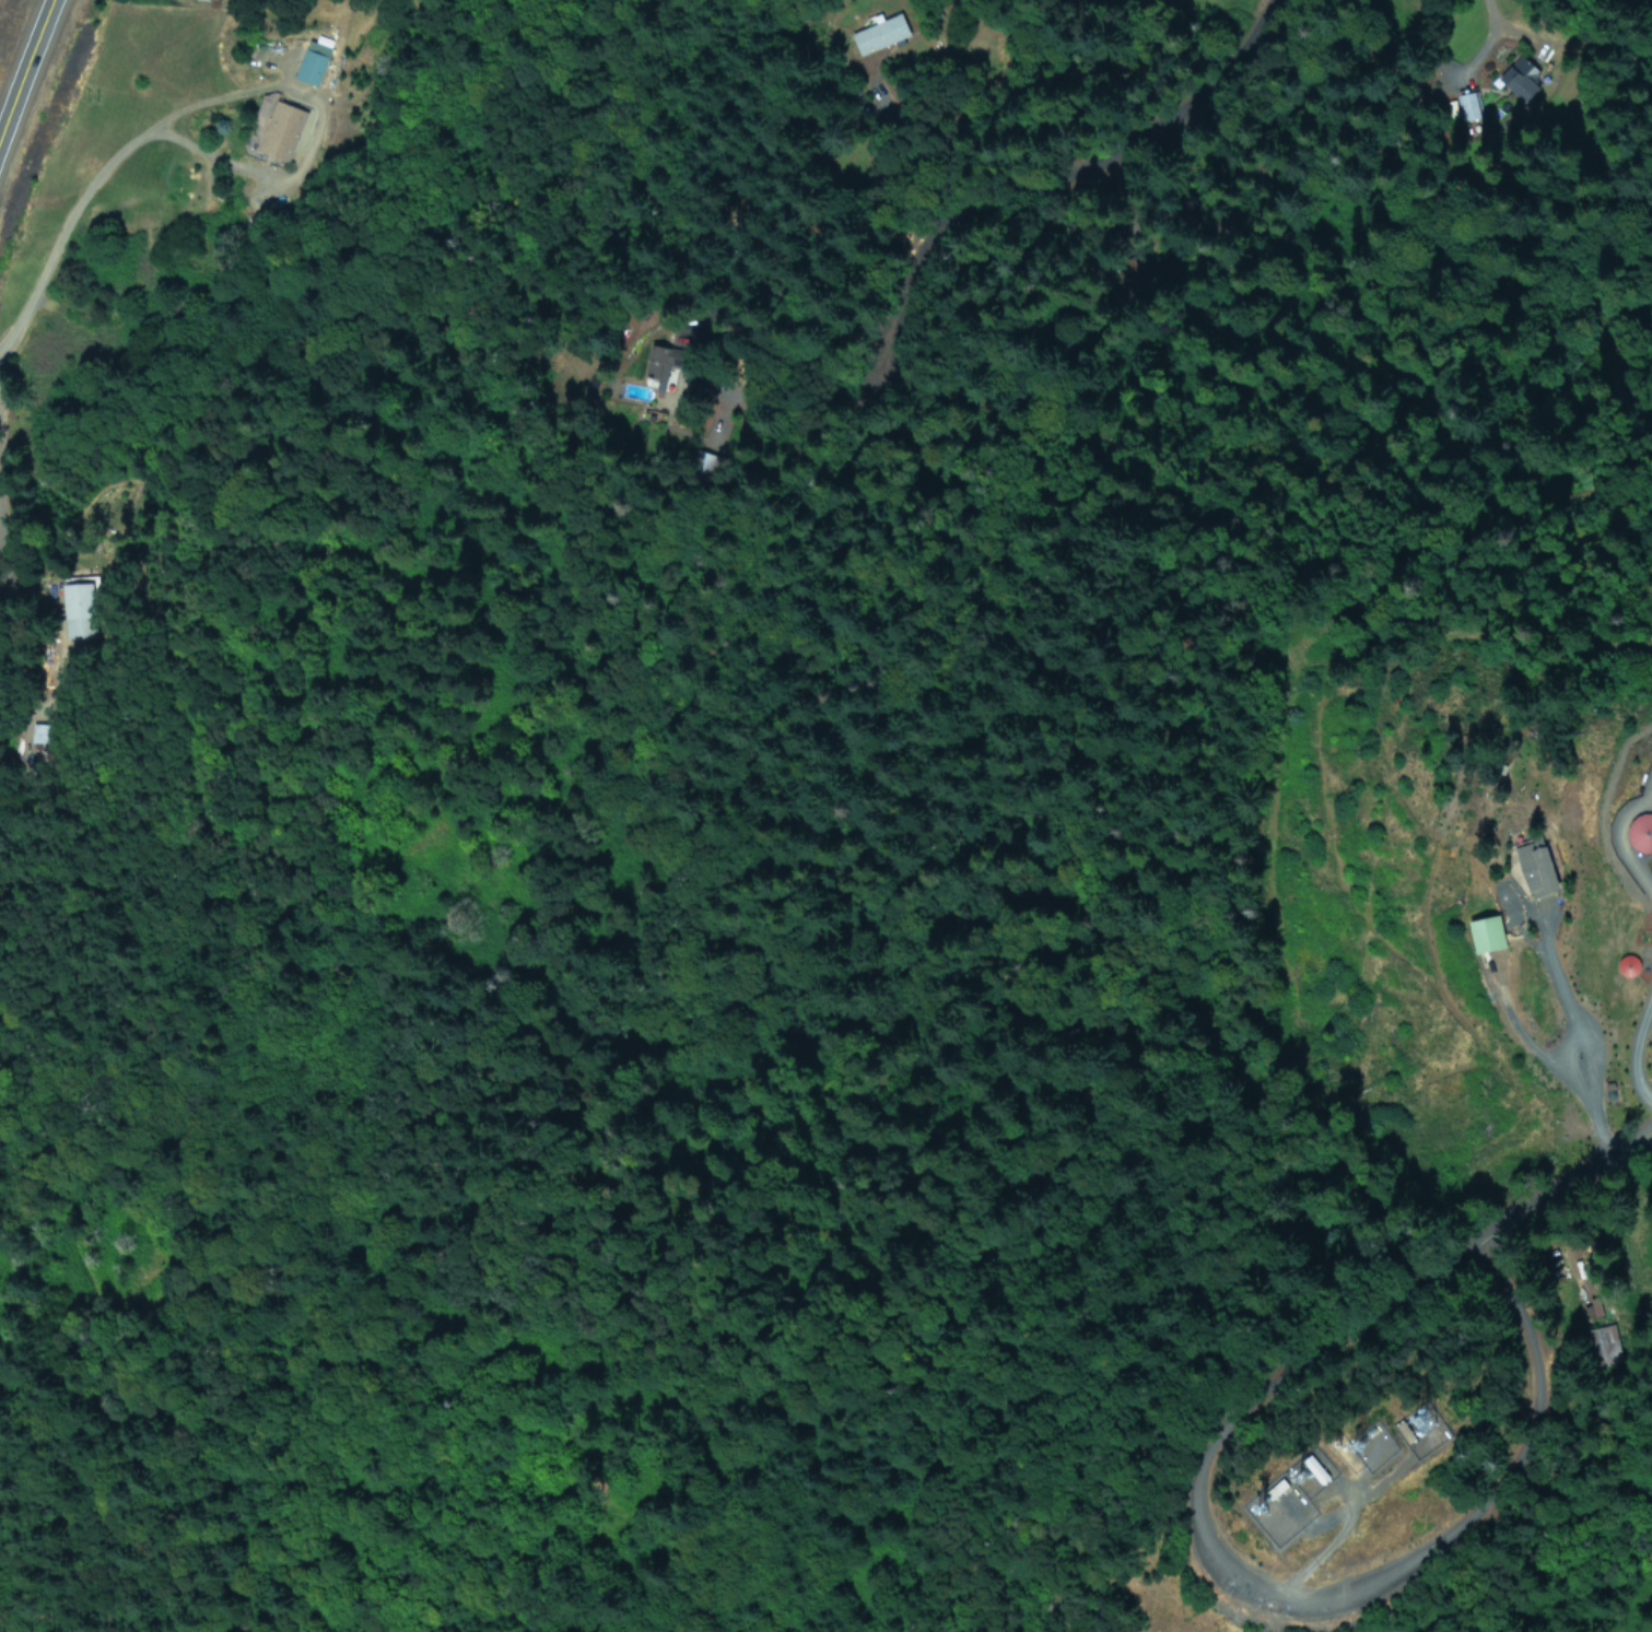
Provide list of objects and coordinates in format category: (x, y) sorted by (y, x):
building: (877, 36)
road: (21, 57)
building: (307, 68)
building: (1520, 81)
building: (1468, 107)
road: (316, 127)
building: (278, 132)
road: (899, 186)
road: (61, 228)
building: (655, 363)
building: (81, 608)
building: (40, 732)
building: (1644, 829)
road: (1628, 837)
building: (1528, 864)
building: (1481, 934)
building: (1632, 963)
road: (1636, 1054)
road: (1562, 1187)
building: (1596, 1307)
building: (1602, 1346)
building: (1420, 1432)
building: (1312, 1469)
building: (1273, 1489)
road: (1233, 1578)

